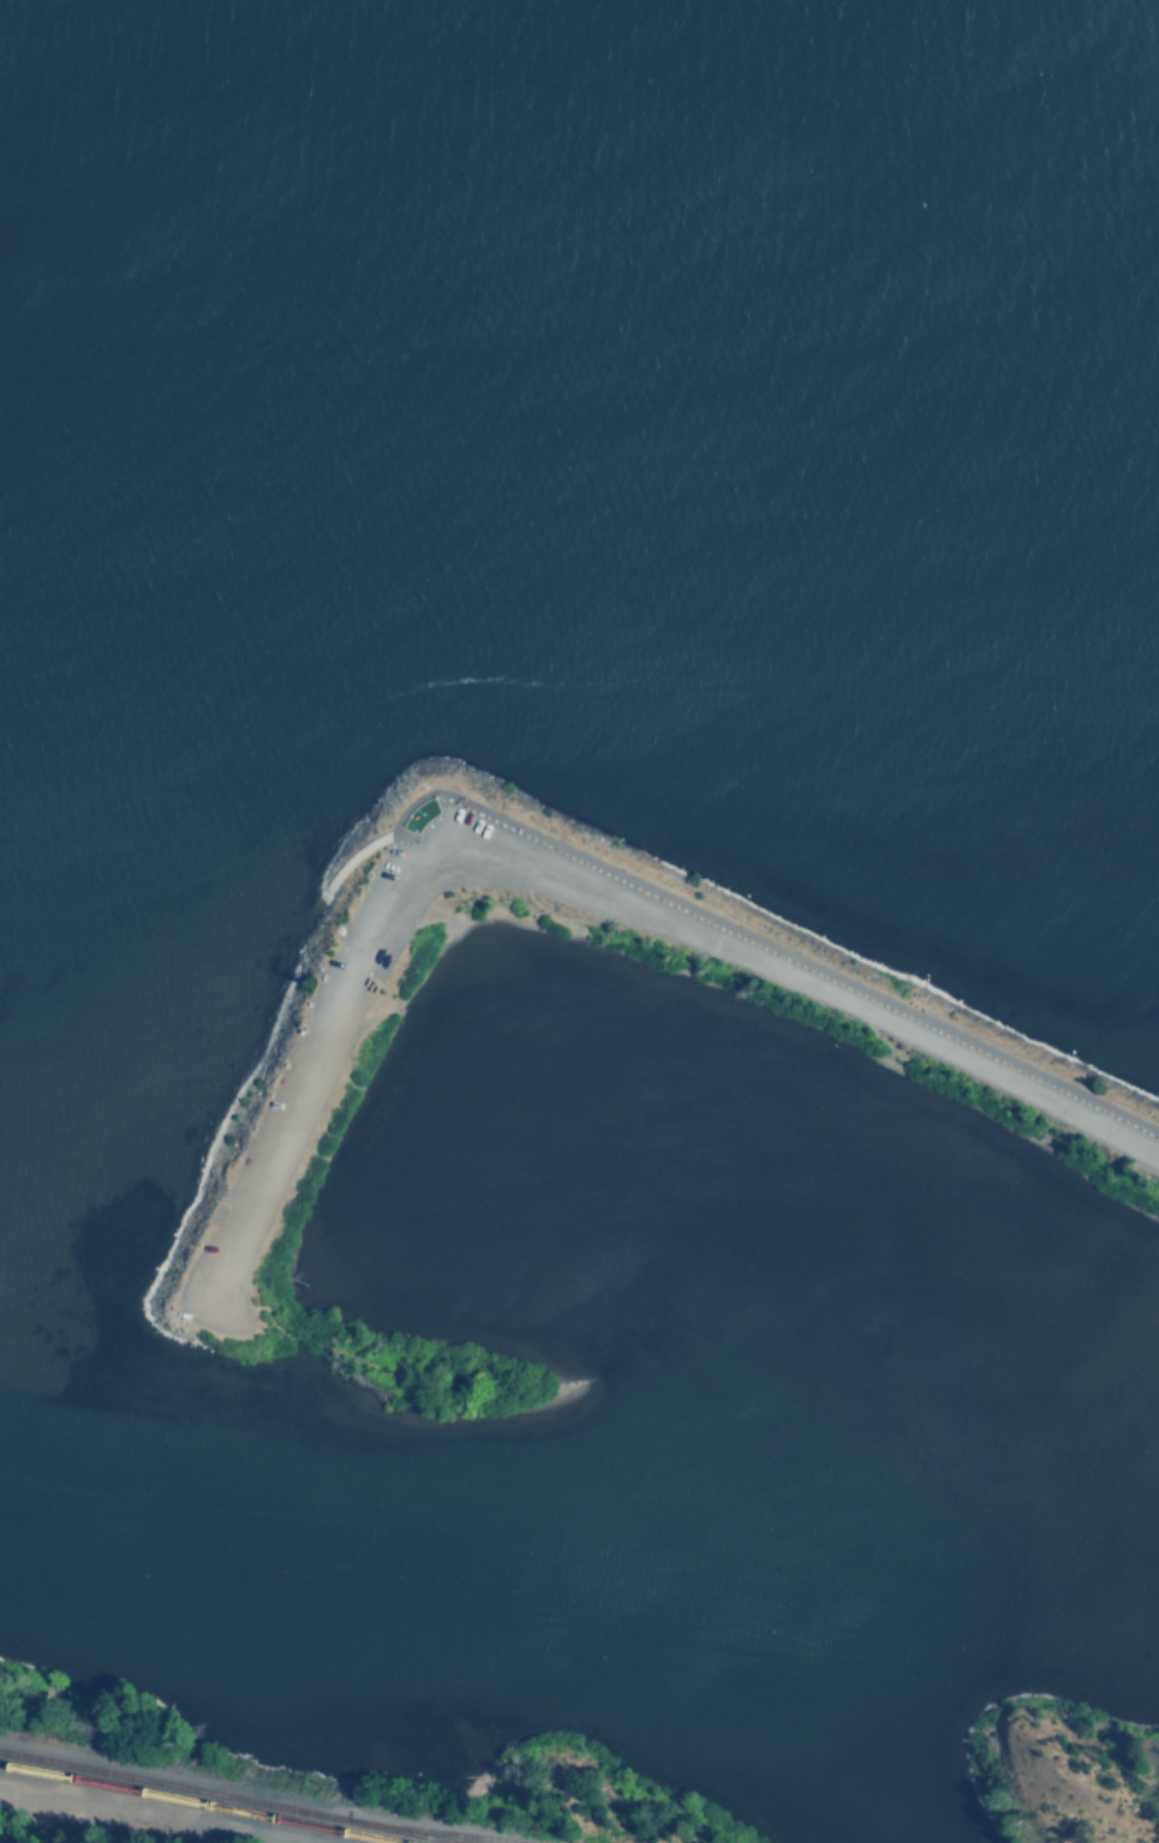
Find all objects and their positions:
road: (352, 856)
road: (567, 879)
parking lot: (360, 909)
road: (435, 909)
road: (548, 912)
road: (760, 929)
parking lot: (773, 961)
road: (313, 970)
building: (316, 981)
building: (369, 985)
parking lot: (981, 1079)
park: (1018, 1084)
parking lot: (269, 1099)
parking lot: (295, 1137)
road: (221, 1183)
parking lot: (196, 1271)
park: (1061, 1772)
railway: (231, 1797)
railway: (201, 1803)
road: (85, 1812)

